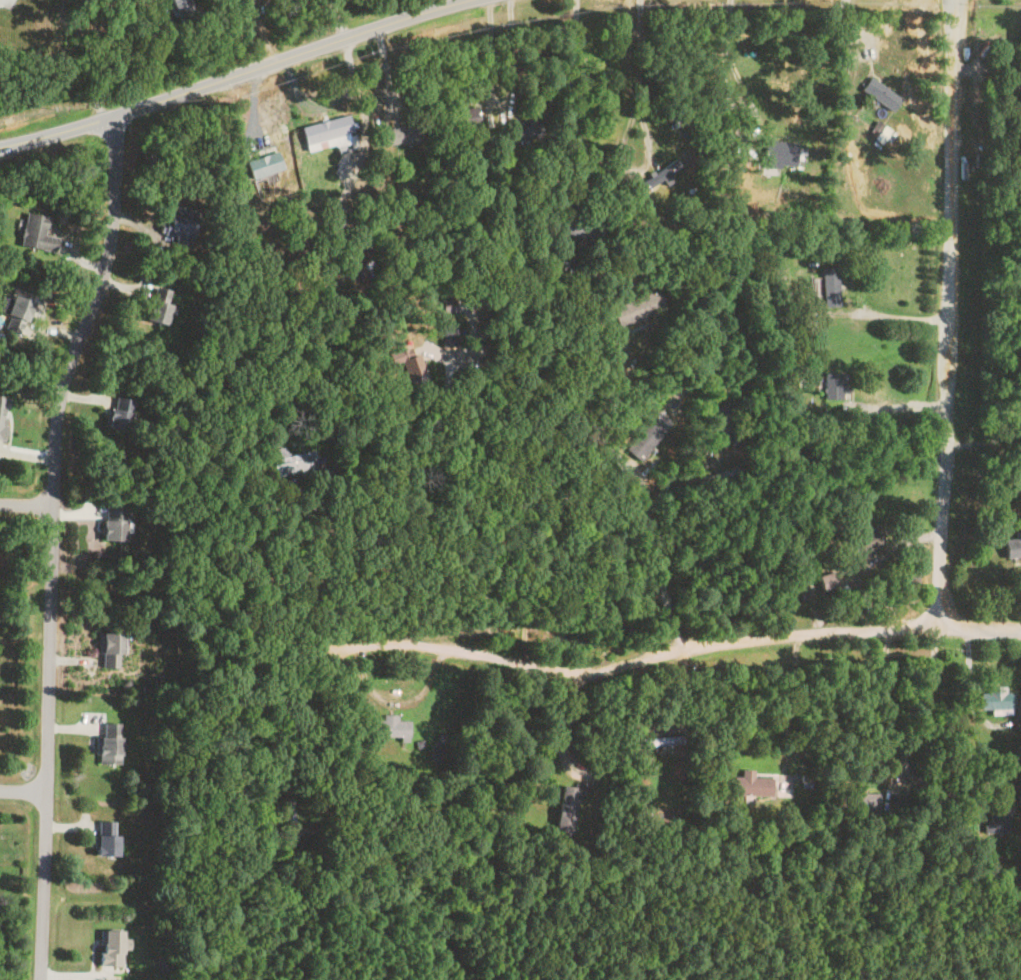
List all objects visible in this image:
building: (181, 10)
road: (727, 23)
road: (516, 51)
road: (492, 52)
road: (91, 53)
road: (639, 72)
road: (237, 75)
building: (1006, 87)
building: (879, 93)
road: (577, 99)
road: (362, 100)
building: (468, 117)
building: (325, 129)
building: (525, 129)
road: (747, 131)
building: (263, 165)
building: (657, 176)
building: (178, 225)
building: (582, 228)
building: (36, 233)
building: (367, 255)
building: (829, 286)
building: (156, 306)
building: (636, 308)
building: (15, 315)
road: (947, 315)
building: (834, 386)
building: (2, 414)
building: (117, 414)
building: (724, 418)
building: (646, 436)
building: (296, 439)
road: (982, 440)
building: (293, 464)
road: (638, 487)
road: (29, 502)
road: (481, 505)
building: (112, 524)
building: (863, 538)
road: (57, 541)
building: (1011, 547)
road: (259, 595)
building: (108, 650)
road: (670, 650)
road: (397, 698)
building: (996, 700)
road: (790, 707)
road: (564, 718)
building: (391, 727)
building: (656, 741)
building: (107, 744)
building: (437, 747)
road: (896, 773)
building: (750, 784)
road: (26, 788)
building: (864, 802)
building: (566, 810)
building: (288, 817)
building: (998, 817)
building: (104, 838)
building: (108, 947)

